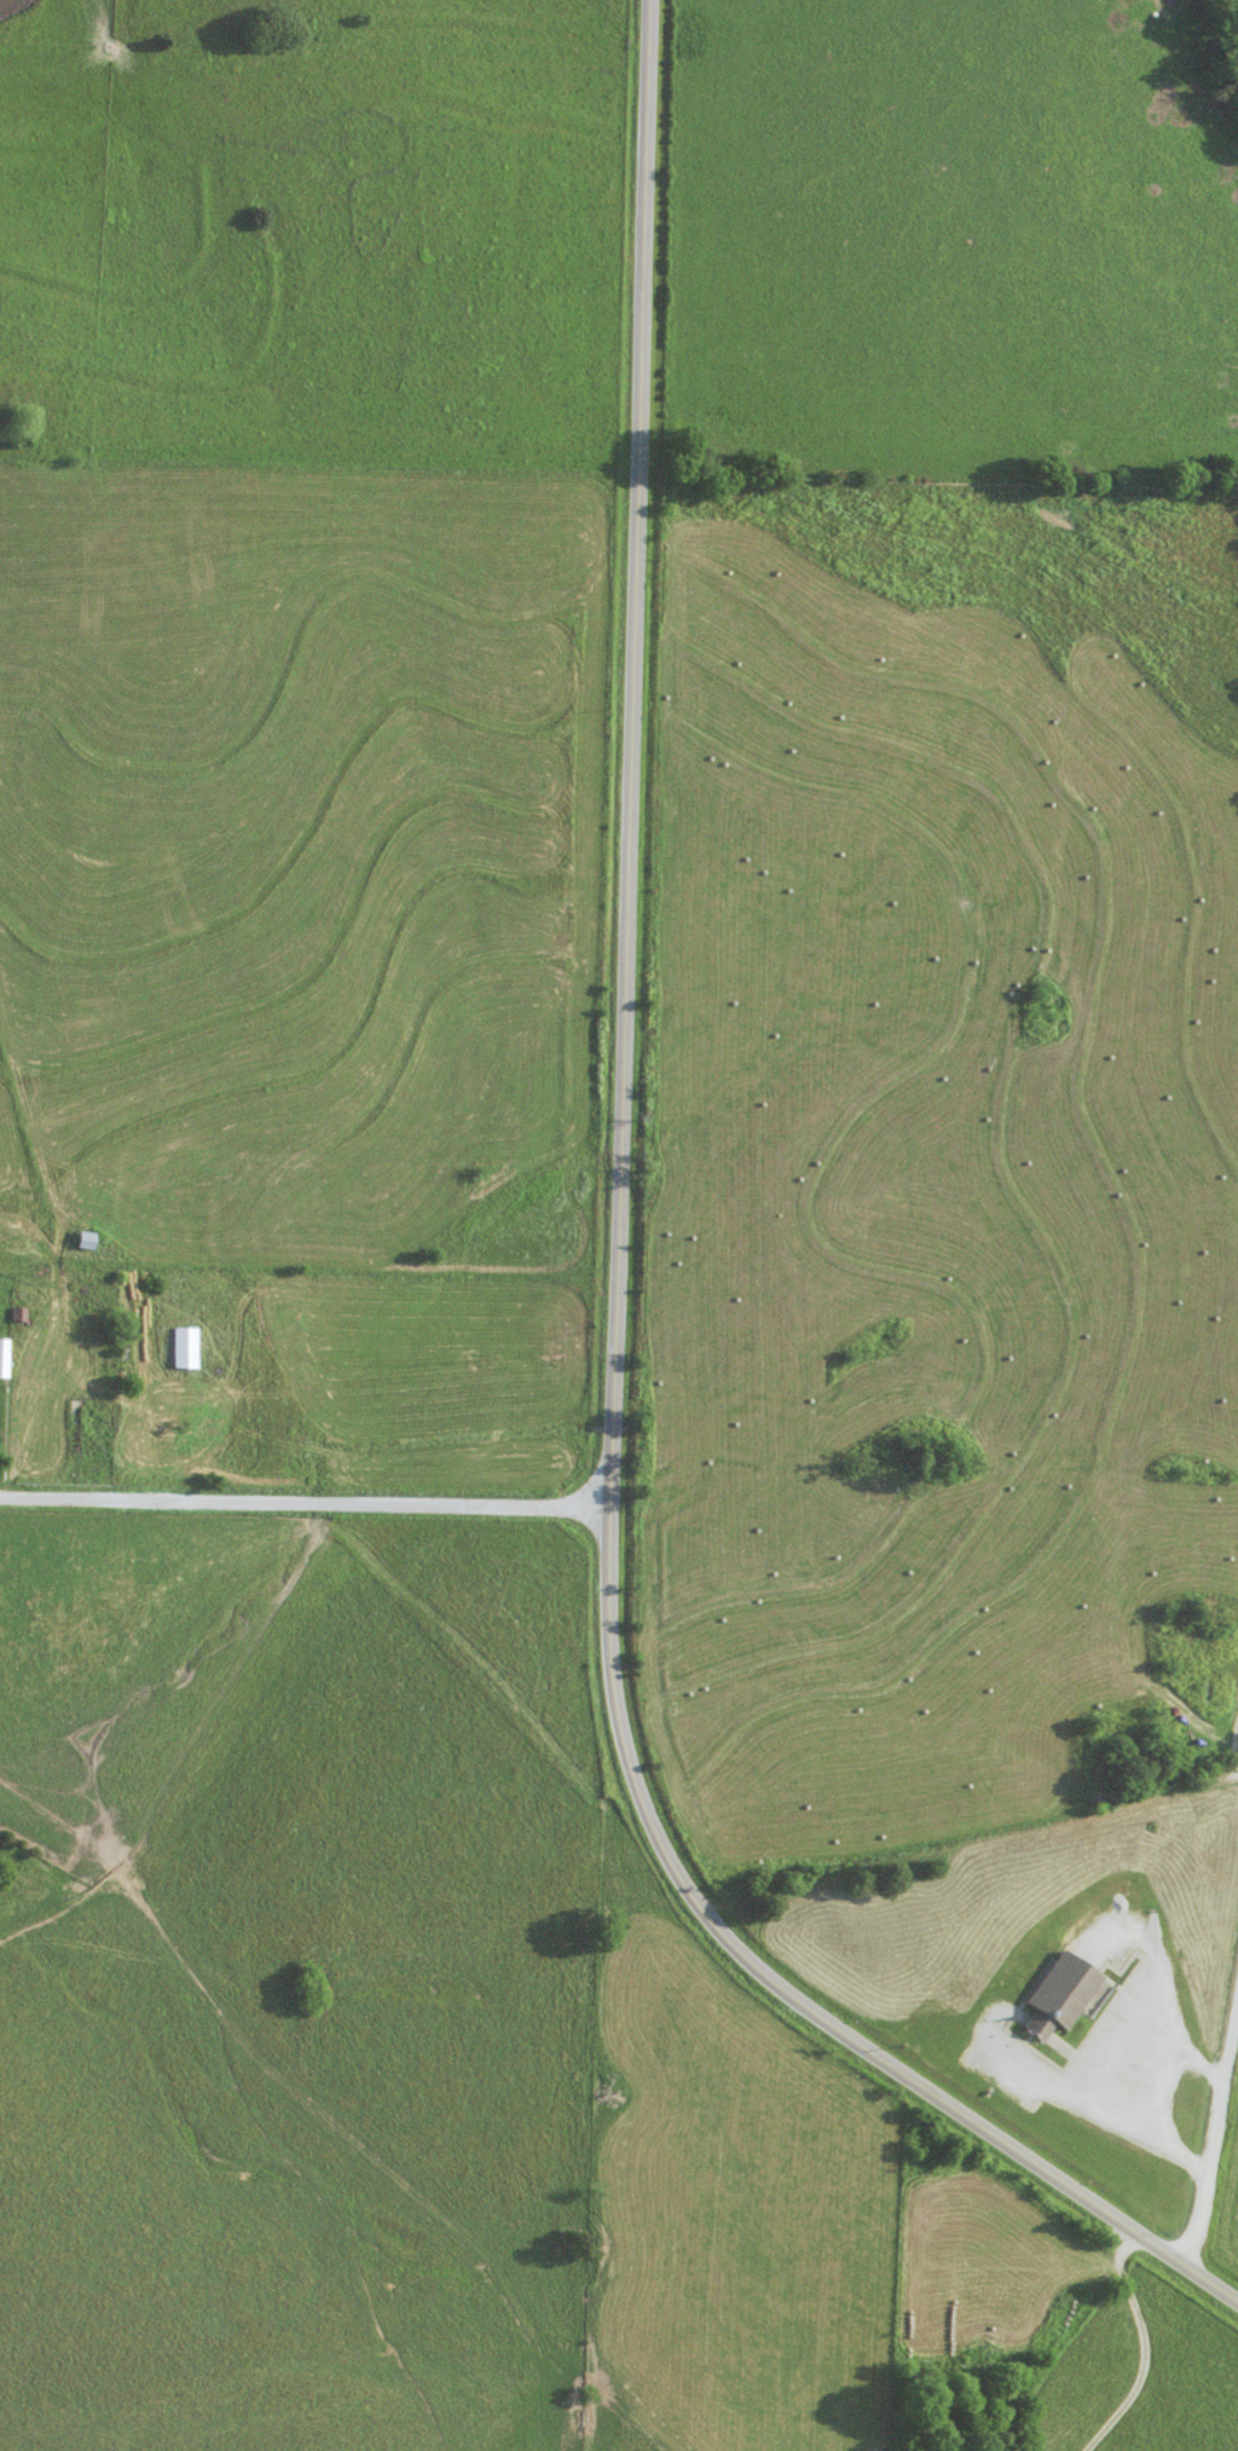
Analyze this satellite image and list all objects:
road: (617, 1297)
building: (183, 1348)
building: (4, 1358)
road: (305, 1504)
building: (1208, 1694)
building: (1057, 1994)
road: (1217, 2139)

